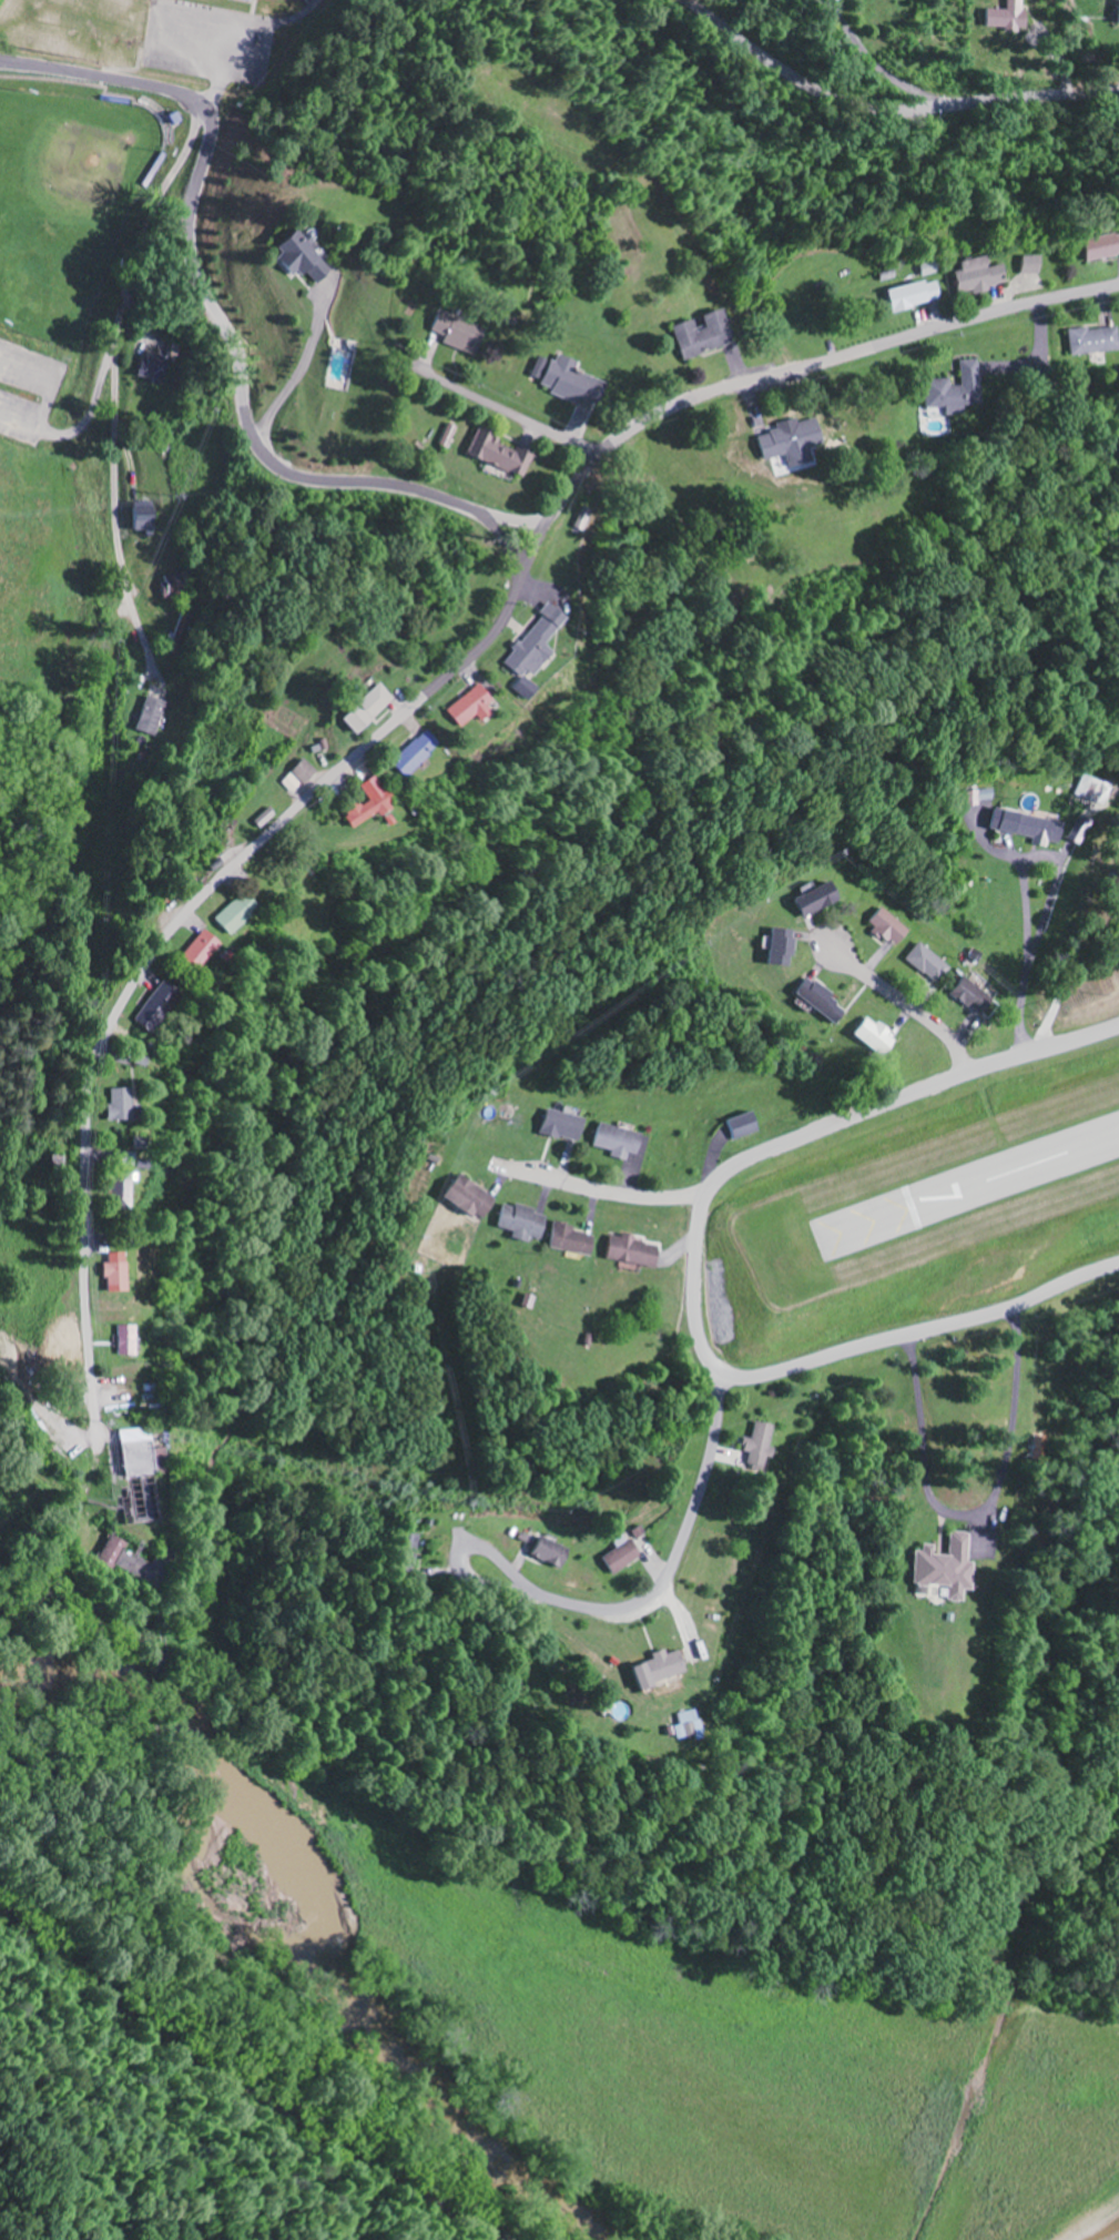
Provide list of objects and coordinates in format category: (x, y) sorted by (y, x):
building: (1009, 17)
parking lot: (208, 41)
road: (884, 109)
park: (65, 205)
building: (1102, 249)
building: (303, 259)
building: (1030, 265)
building: (980, 277)
park: (91, 280)
building: (919, 296)
road: (218, 324)
building: (457, 333)
building: (706, 336)
building: (1096, 342)
building: (154, 366)
road: (785, 371)
road: (116, 376)
building: (570, 382)
parking lot: (27, 391)
building: (962, 393)
road: (506, 413)
road: (82, 422)
building: (449, 436)
building: (794, 444)
building: (502, 454)
building: (153, 519)
road: (509, 539)
building: (174, 585)
building: (529, 651)
building: (466, 708)
building: (359, 709)
building: (149, 716)
building: (410, 754)
building: (296, 777)
building: (1084, 789)
building: (976, 794)
building: (367, 803)
building: (262, 819)
building: (1019, 827)
building: (226, 918)
building: (882, 926)
road: (162, 944)
building: (772, 947)
building: (196, 951)
building: (923, 963)
building: (966, 994)
building: (815, 1002)
road: (908, 1005)
building: (151, 1006)
building: (869, 1036)
building: (112, 1105)
building: (556, 1126)
building: (736, 1126)
building: (612, 1141)
airport runway: (970, 1186)
road: (601, 1188)
building: (115, 1190)
building: (462, 1197)
building: (516, 1222)
building: (566, 1240)
building: (627, 1251)
road: (696, 1269)
building: (110, 1273)
building: (523, 1301)
building: (125, 1340)
building: (130, 1436)
building: (756, 1446)
building: (153, 1460)
road: (682, 1535)
building: (401, 1551)
building: (546, 1553)
building: (616, 1554)
road: (506, 1567)
building: (938, 1568)
road: (496, 1585)
building: (653, 1670)
building: (685, 1725)
river: (306, 1929)
road: (240, 2082)

